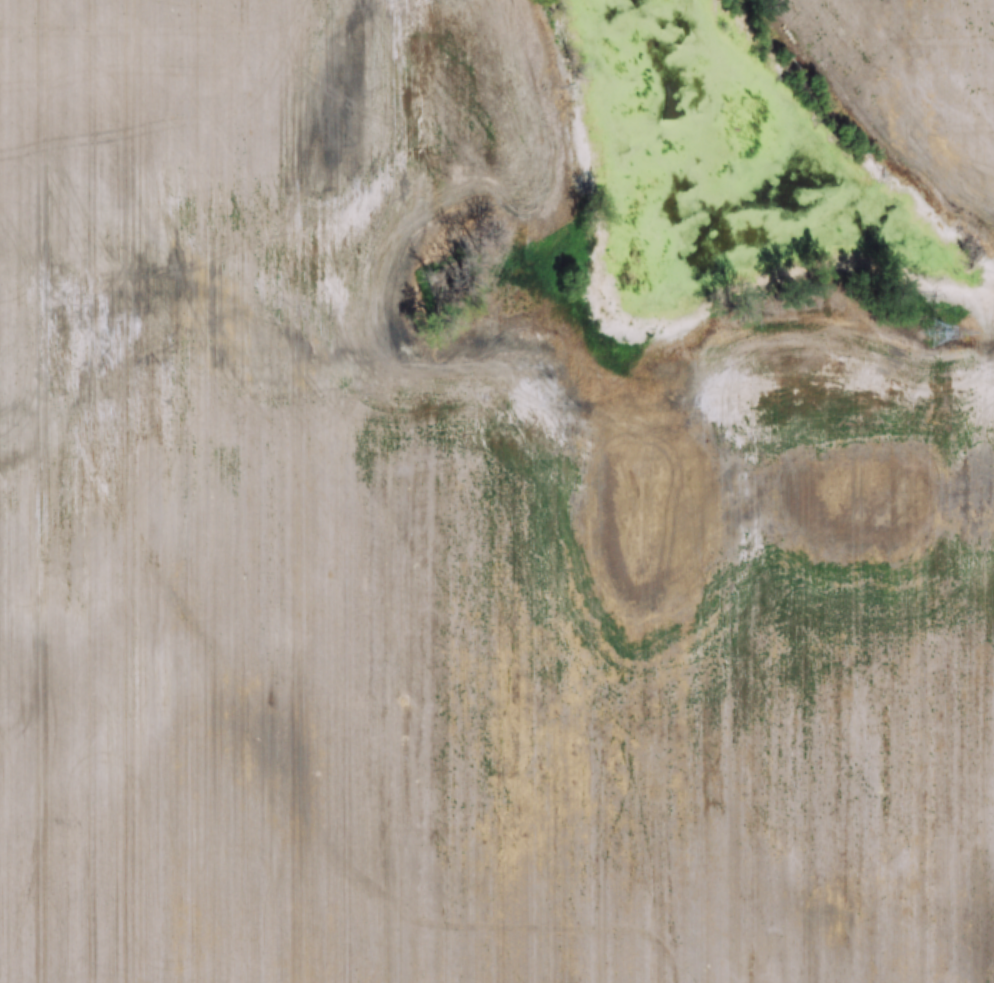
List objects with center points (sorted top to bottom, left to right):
power tower: (939, 332)

